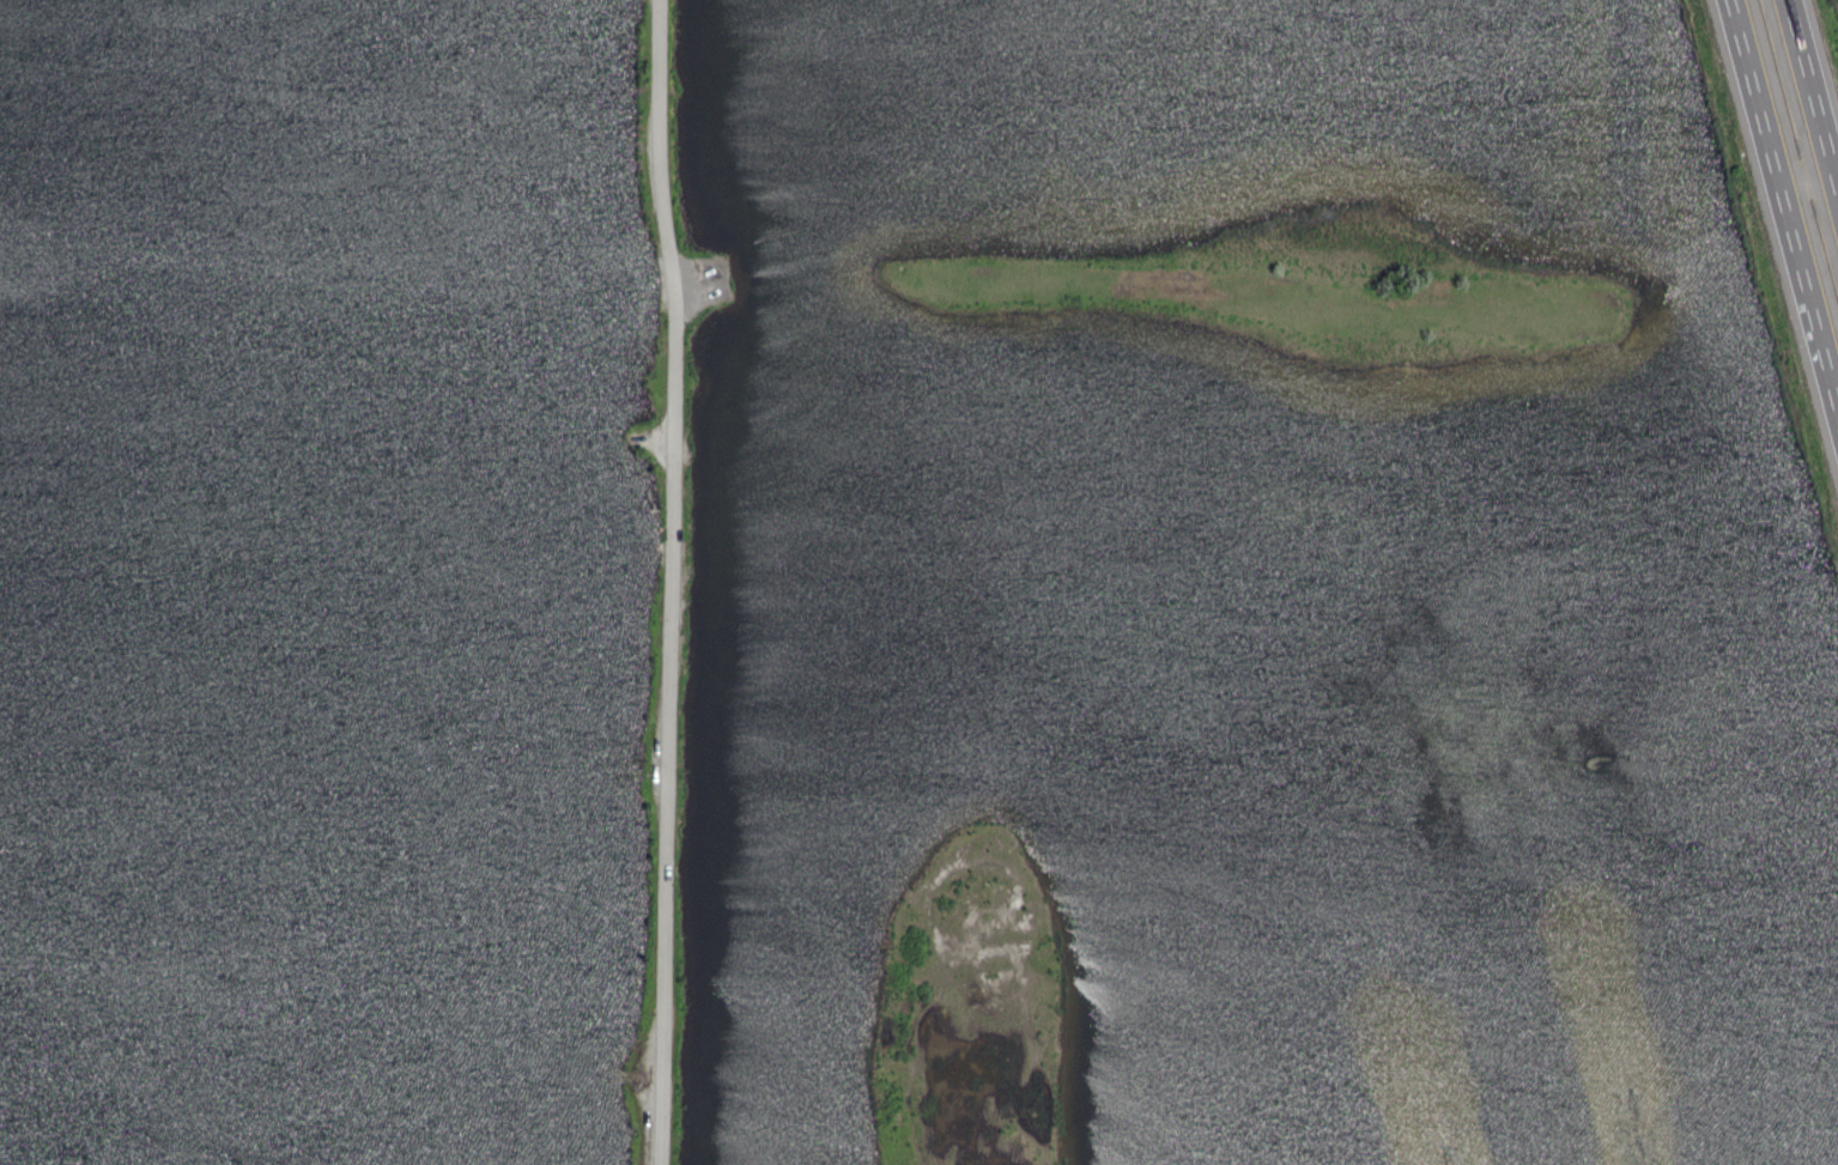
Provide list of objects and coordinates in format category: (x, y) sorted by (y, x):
road: (1809, 85)
road: (1752, 92)
road: (1804, 178)
road: (1834, 182)
road: (1807, 301)
park: (345, 581)
road: (673, 582)

